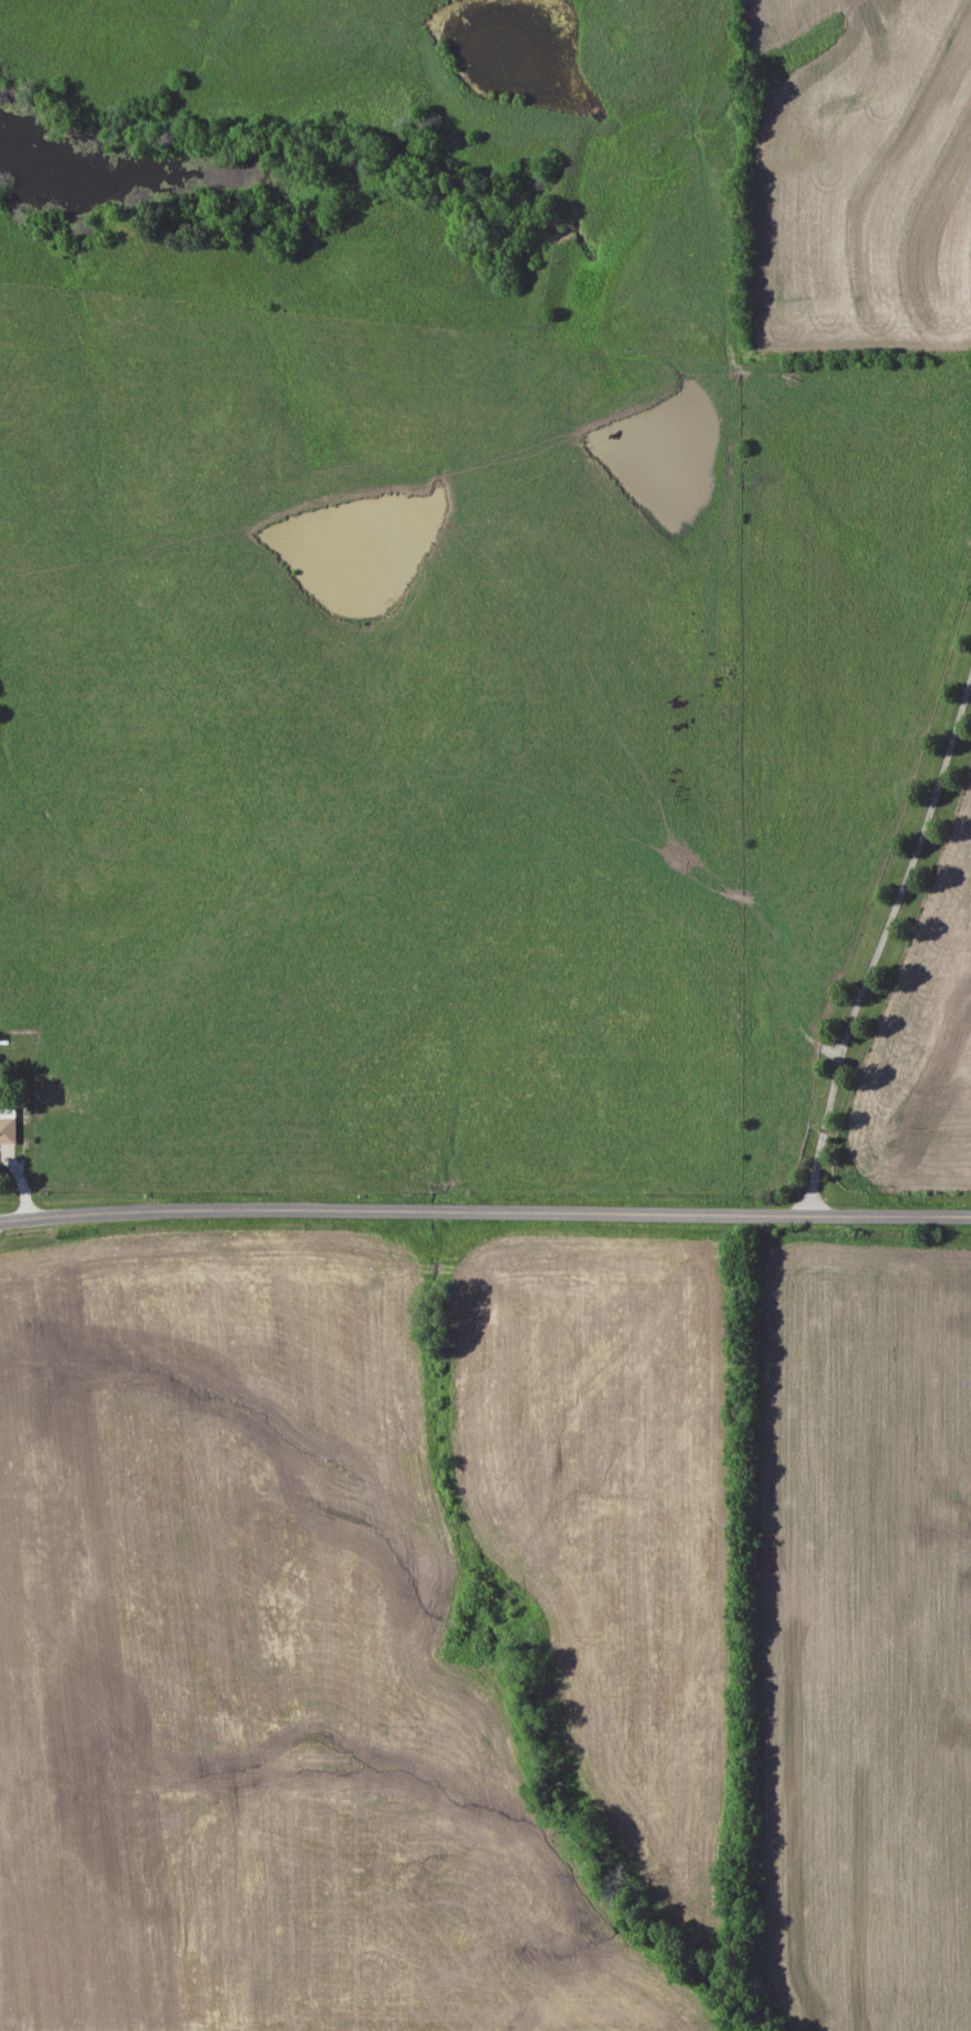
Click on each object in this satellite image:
road: (880, 942)
building: (9, 1126)
road: (485, 1210)

